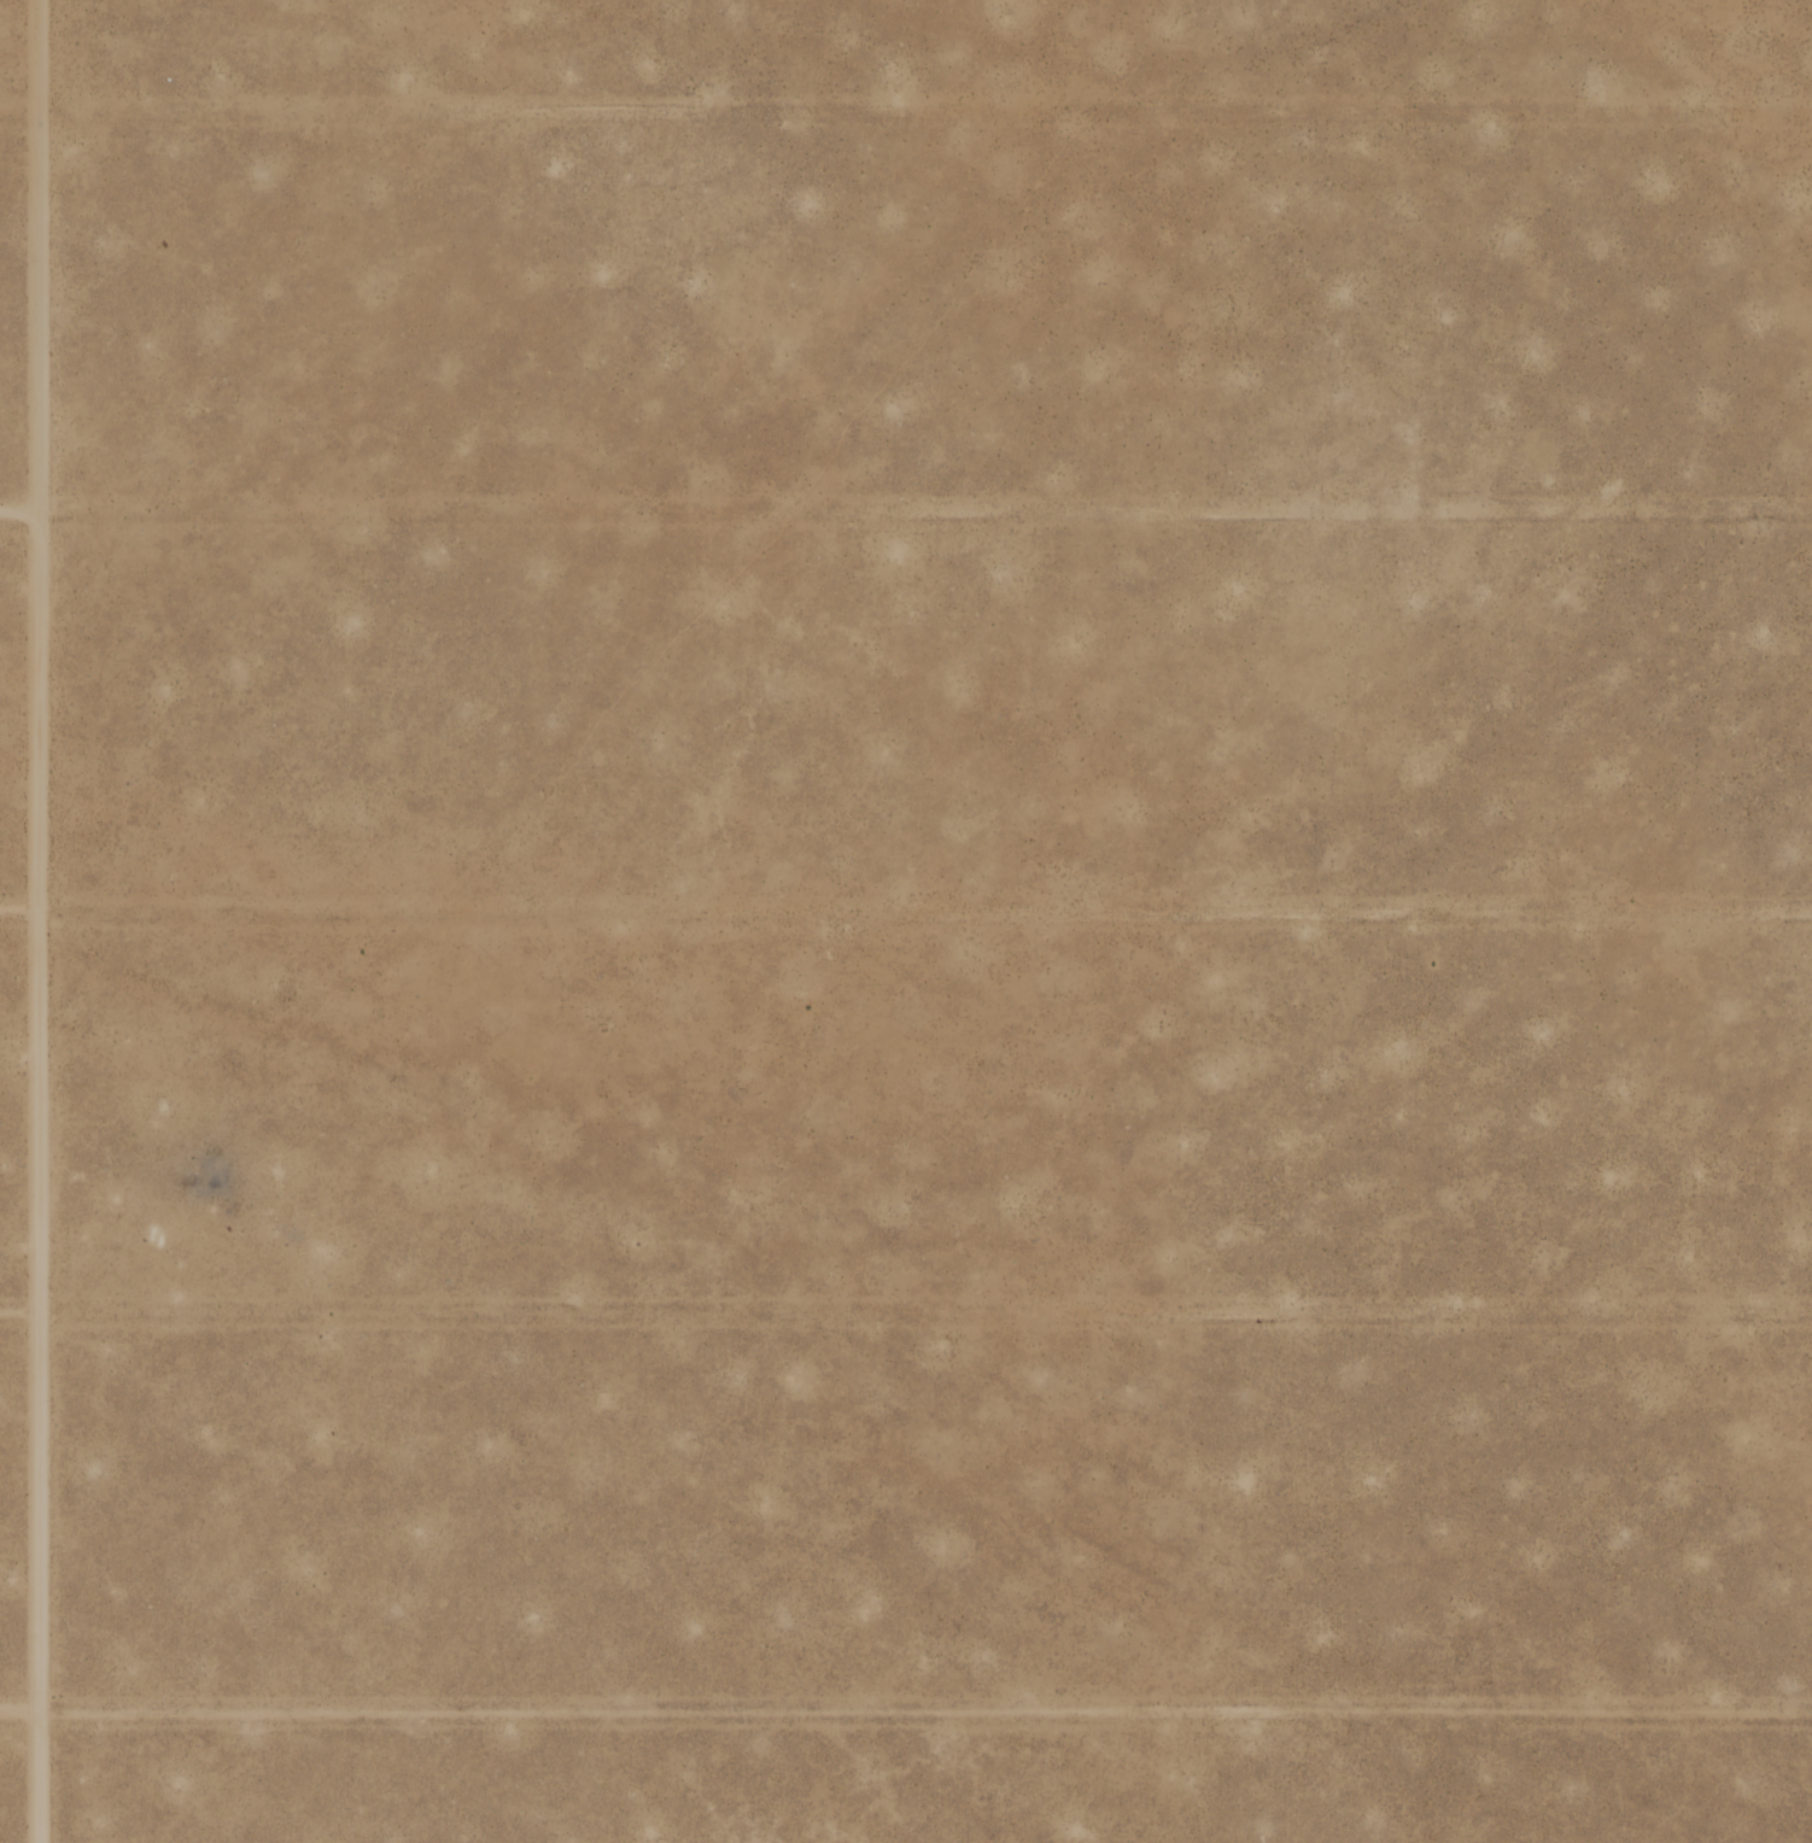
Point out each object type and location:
road: (41, 455)
road: (21, 510)
road: (19, 909)
road: (39, 1376)
road: (19, 1708)

